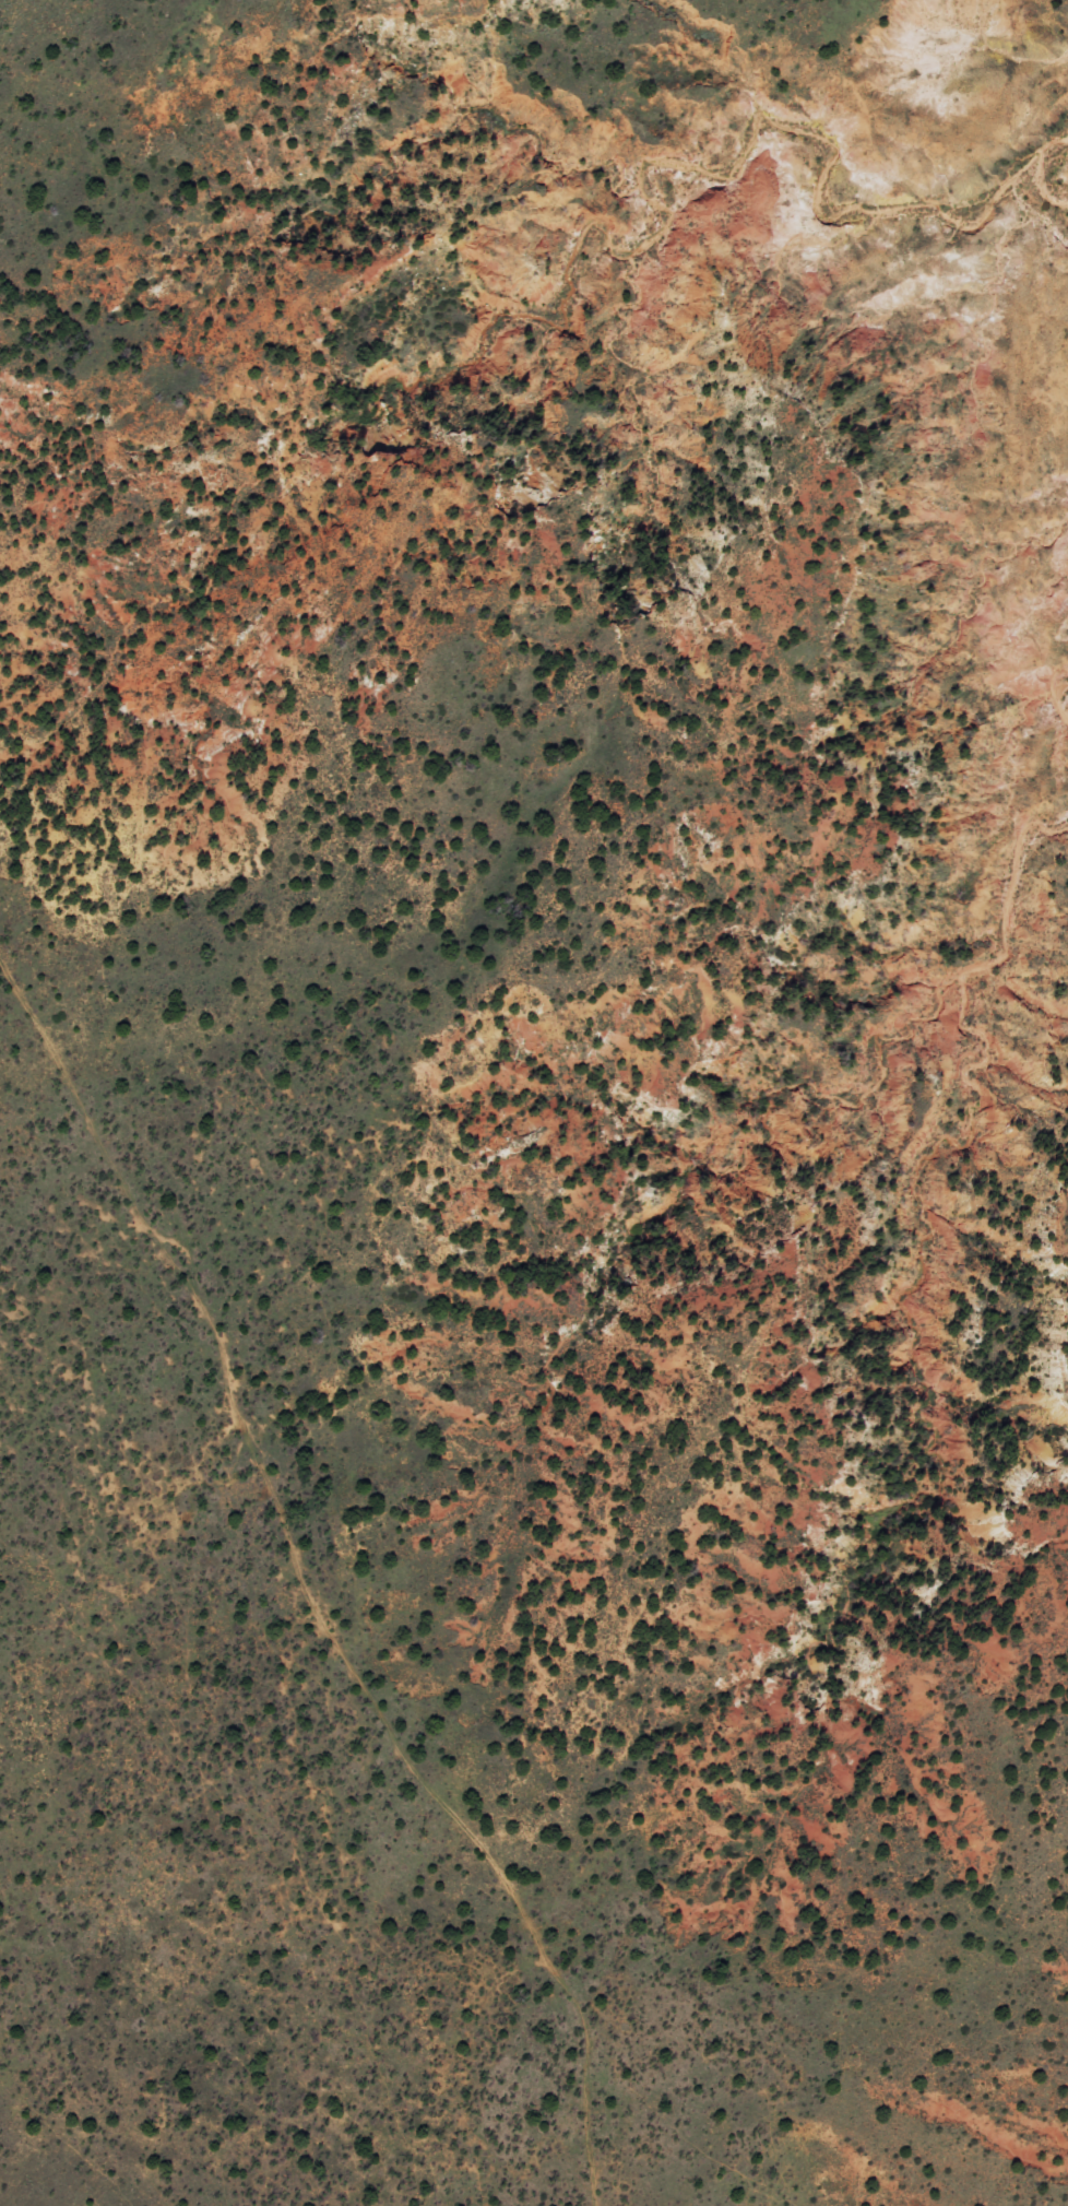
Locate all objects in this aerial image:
road: (292, 1601)
road: (50, 2164)

